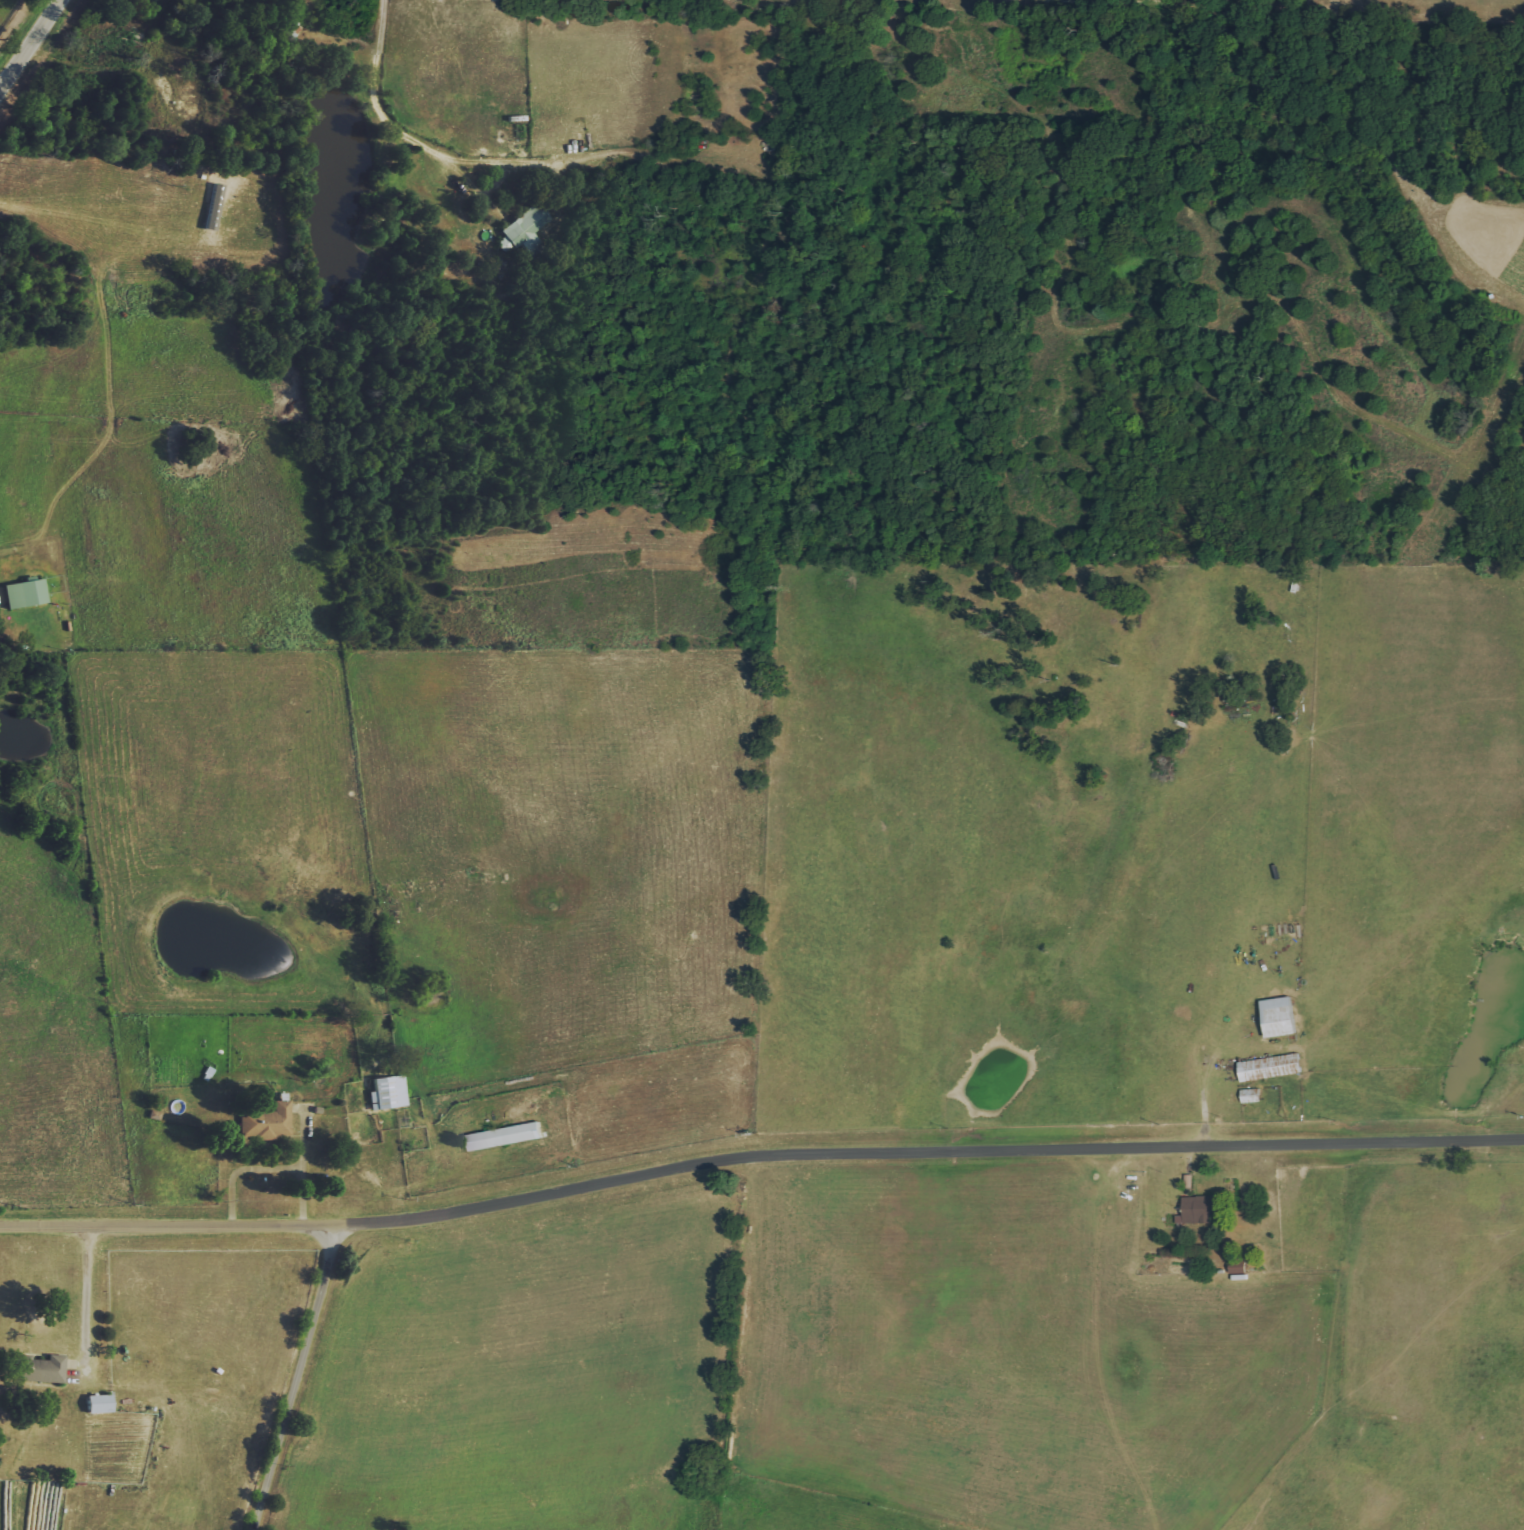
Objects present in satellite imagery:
road: (28, 39)
road: (1, 74)
road: (389, 114)
building: (524, 229)
building: (24, 593)
building: (1276, 1017)
building: (1267, 1067)
road: (1199, 1083)
building: (386, 1092)
building: (1248, 1095)
building: (271, 1121)
building: (503, 1136)
road: (757, 1152)
road: (275, 1172)
building: (1198, 1209)
road: (85, 1300)
road: (1088, 1347)
building: (41, 1369)
road: (293, 1381)
building: (97, 1403)

